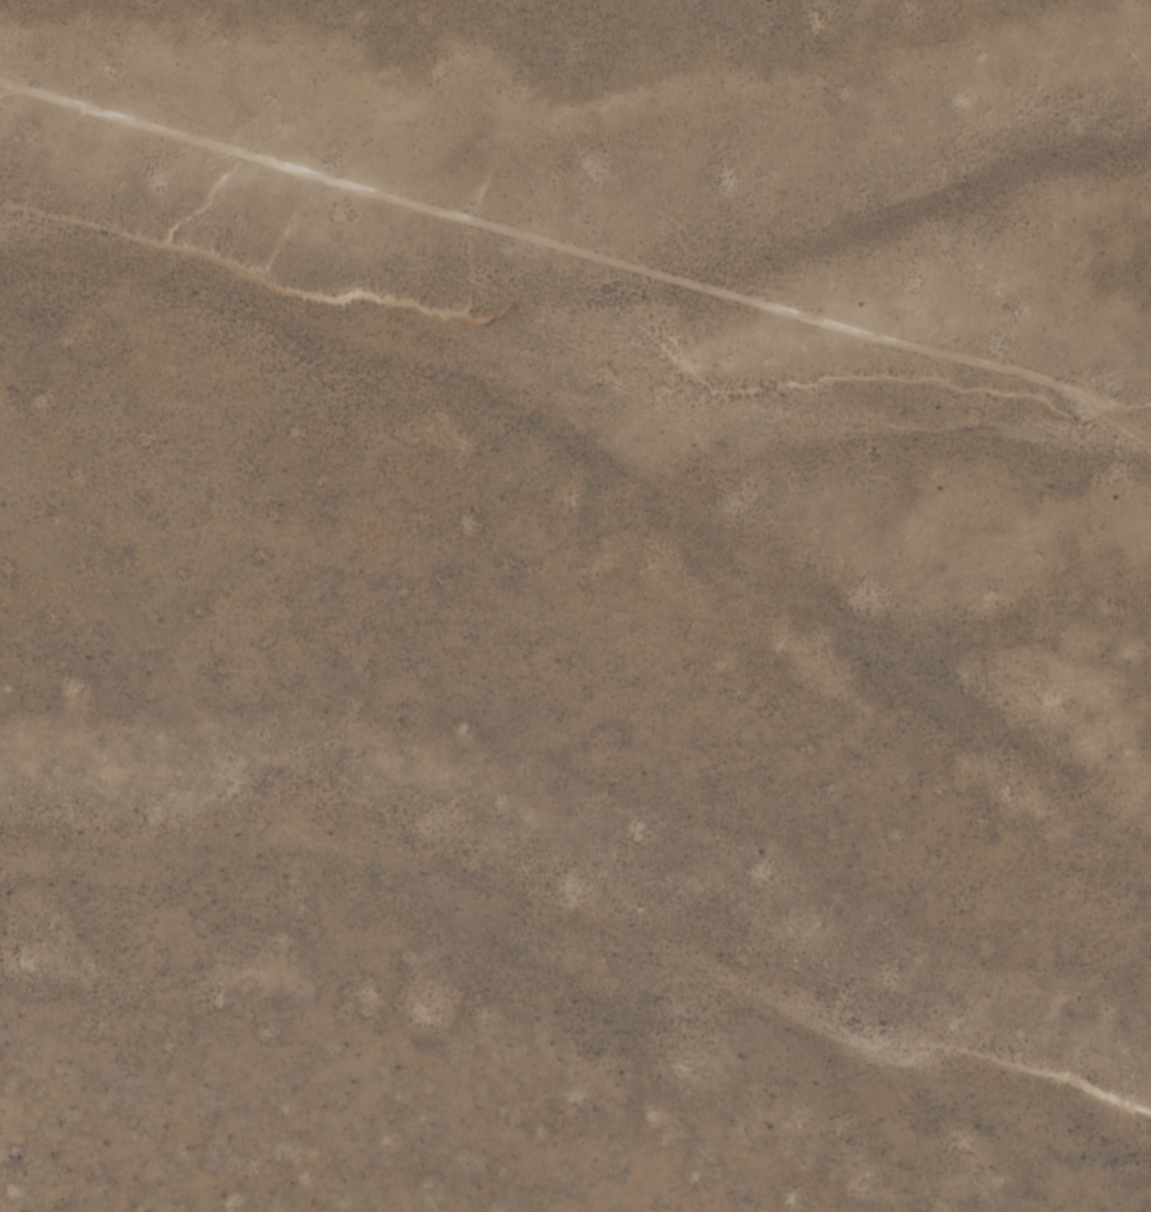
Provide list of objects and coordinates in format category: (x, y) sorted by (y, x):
road: (580, 253)

